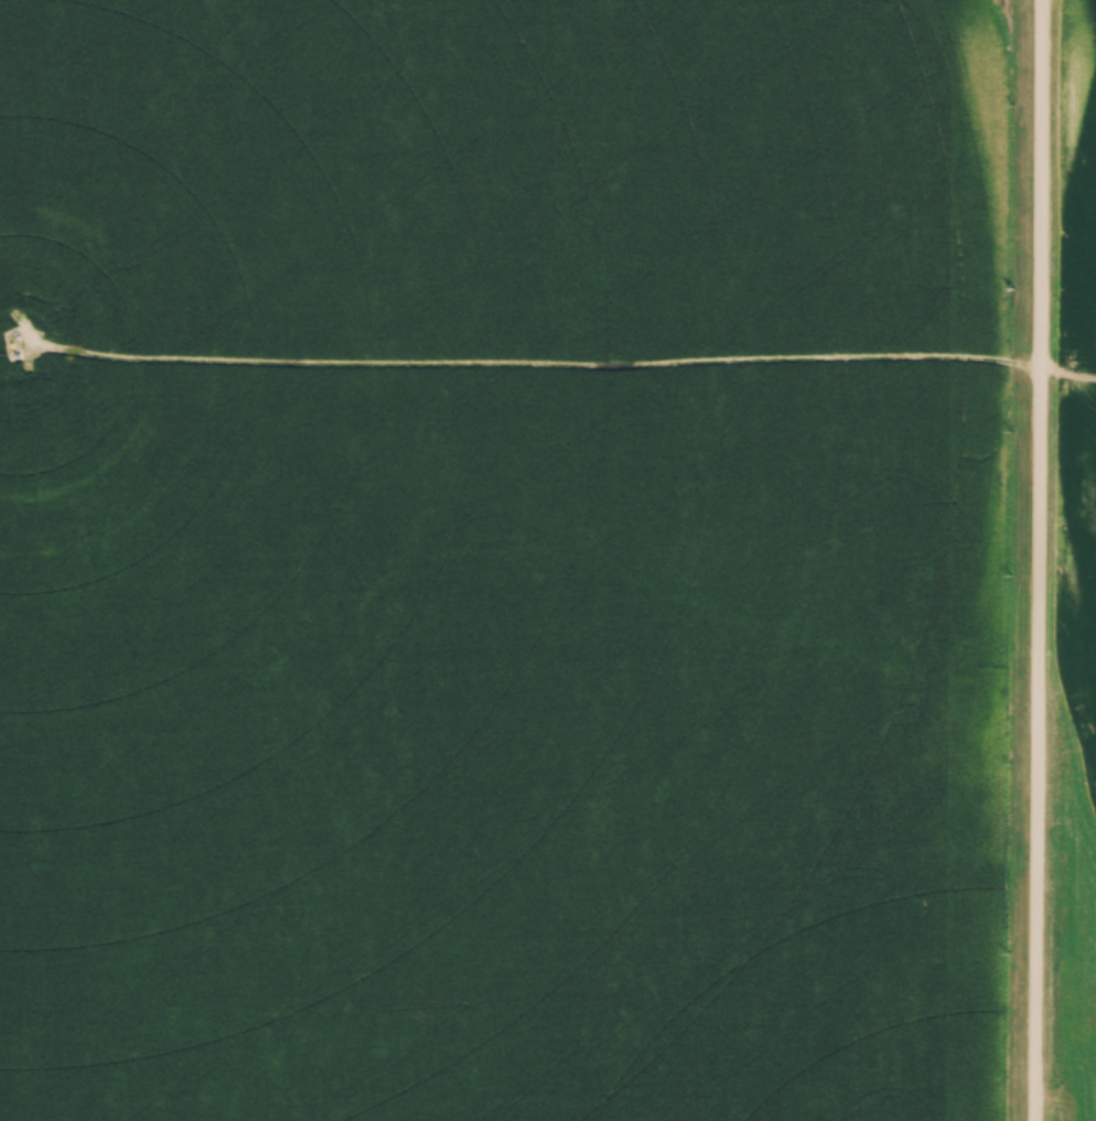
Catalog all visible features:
road: (1035, 560)

